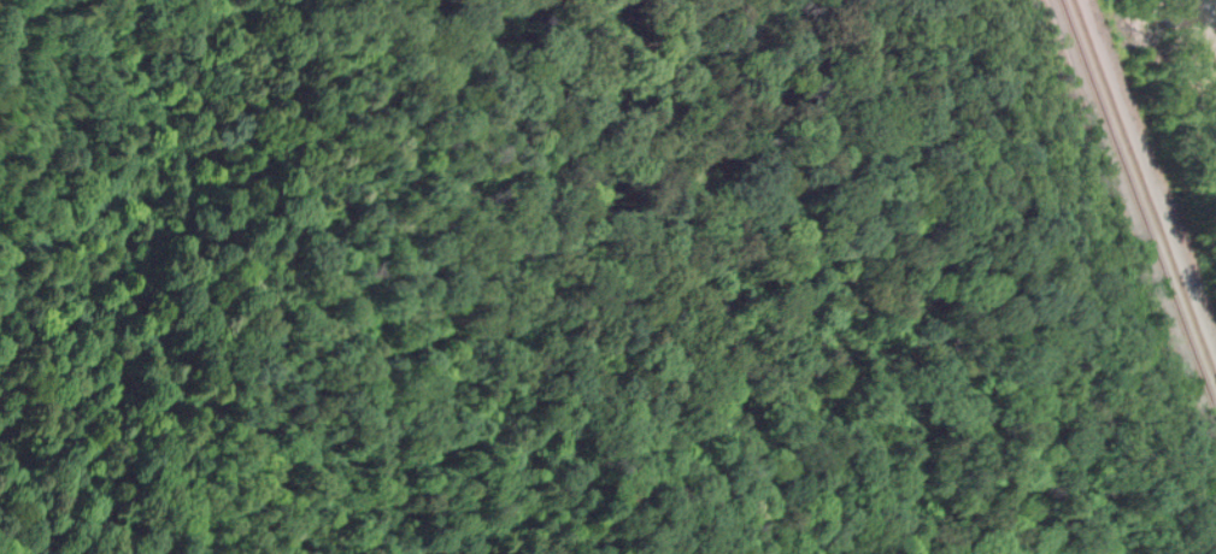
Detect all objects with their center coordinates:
railway: (1145, 188)
railway: (1138, 205)
road: (29, 538)

